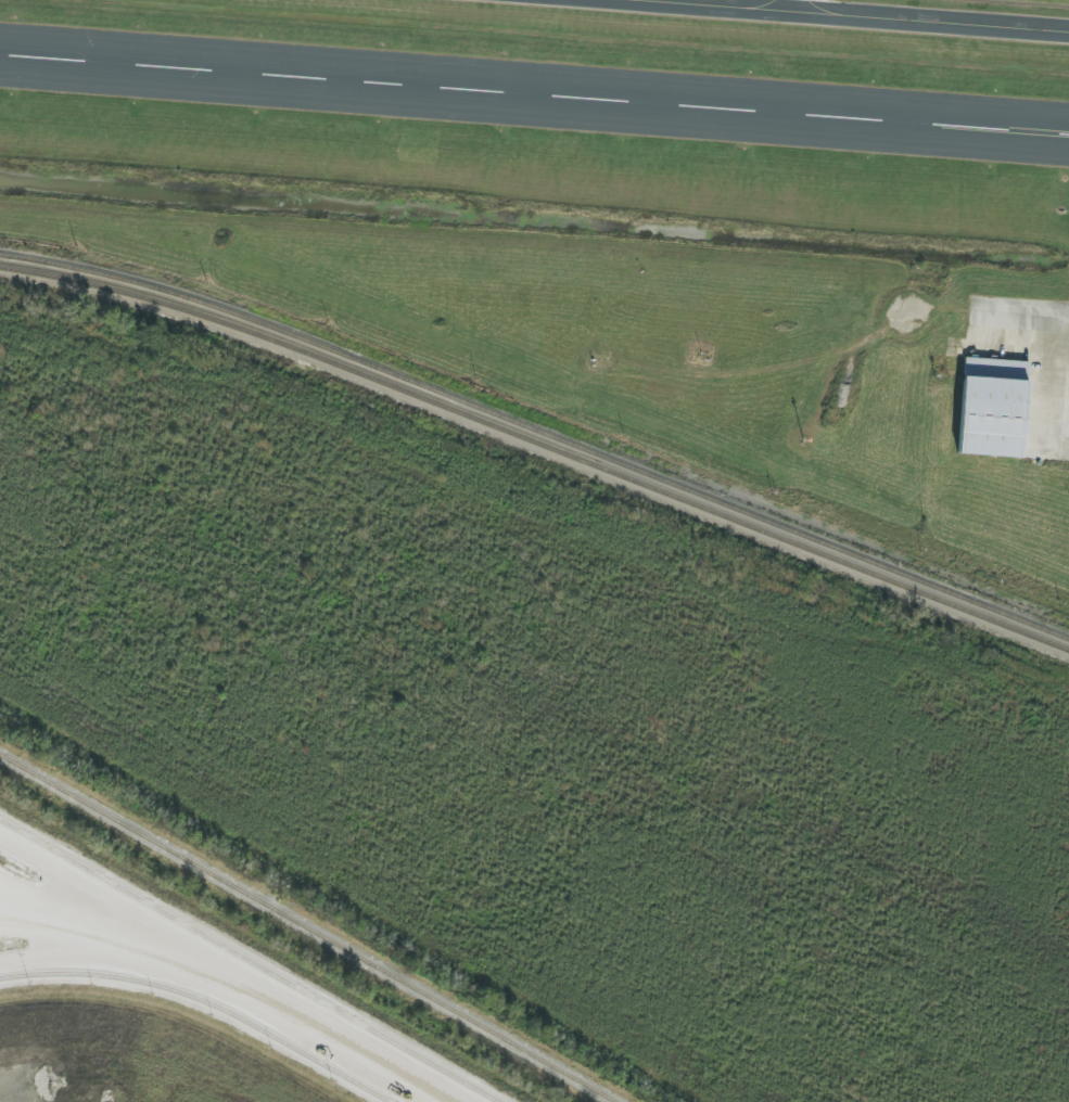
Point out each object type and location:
airport taxiway: (927, 11)
airport taxiway: (773, 22)
airport runway: (534, 63)
airport runway: (534, 128)
airport: (619, 219)
railway: (155, 303)
airport taxiway: (968, 311)
airport apron: (1033, 384)
airport hangar: (990, 408)
building: (990, 408)
railway: (538, 433)
railway: (688, 503)
railway: (308, 927)
road: (272, 1007)

